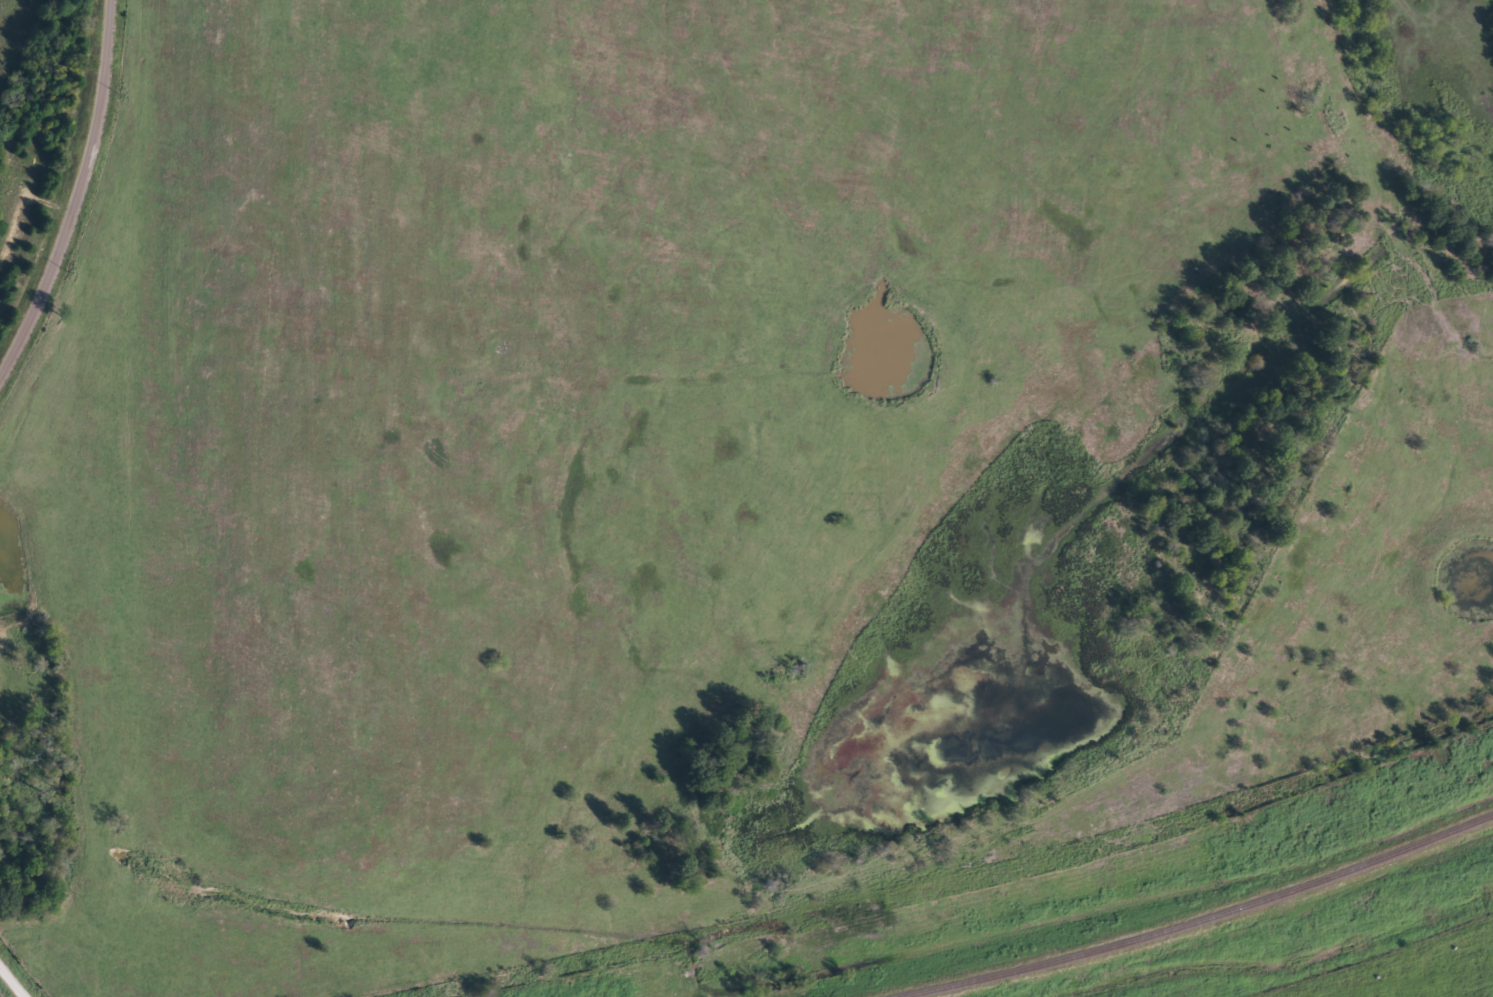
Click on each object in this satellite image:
road: (84, 193)
railway: (1203, 920)
road: (13, 980)

